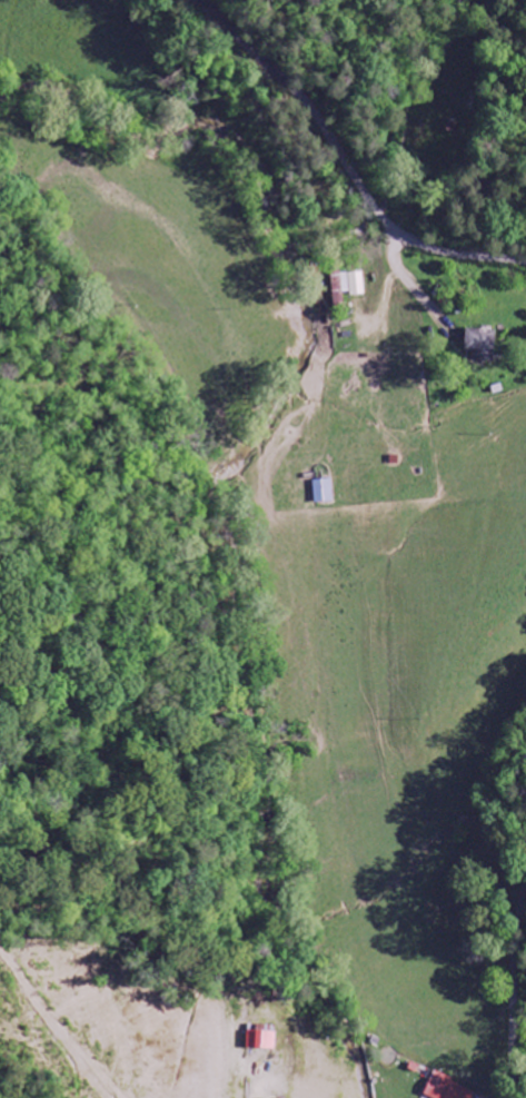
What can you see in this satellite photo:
road: (346, 160)
building: (347, 287)
building: (482, 345)
building: (324, 491)
road: (515, 1003)
building: (262, 1040)
building: (448, 1089)

